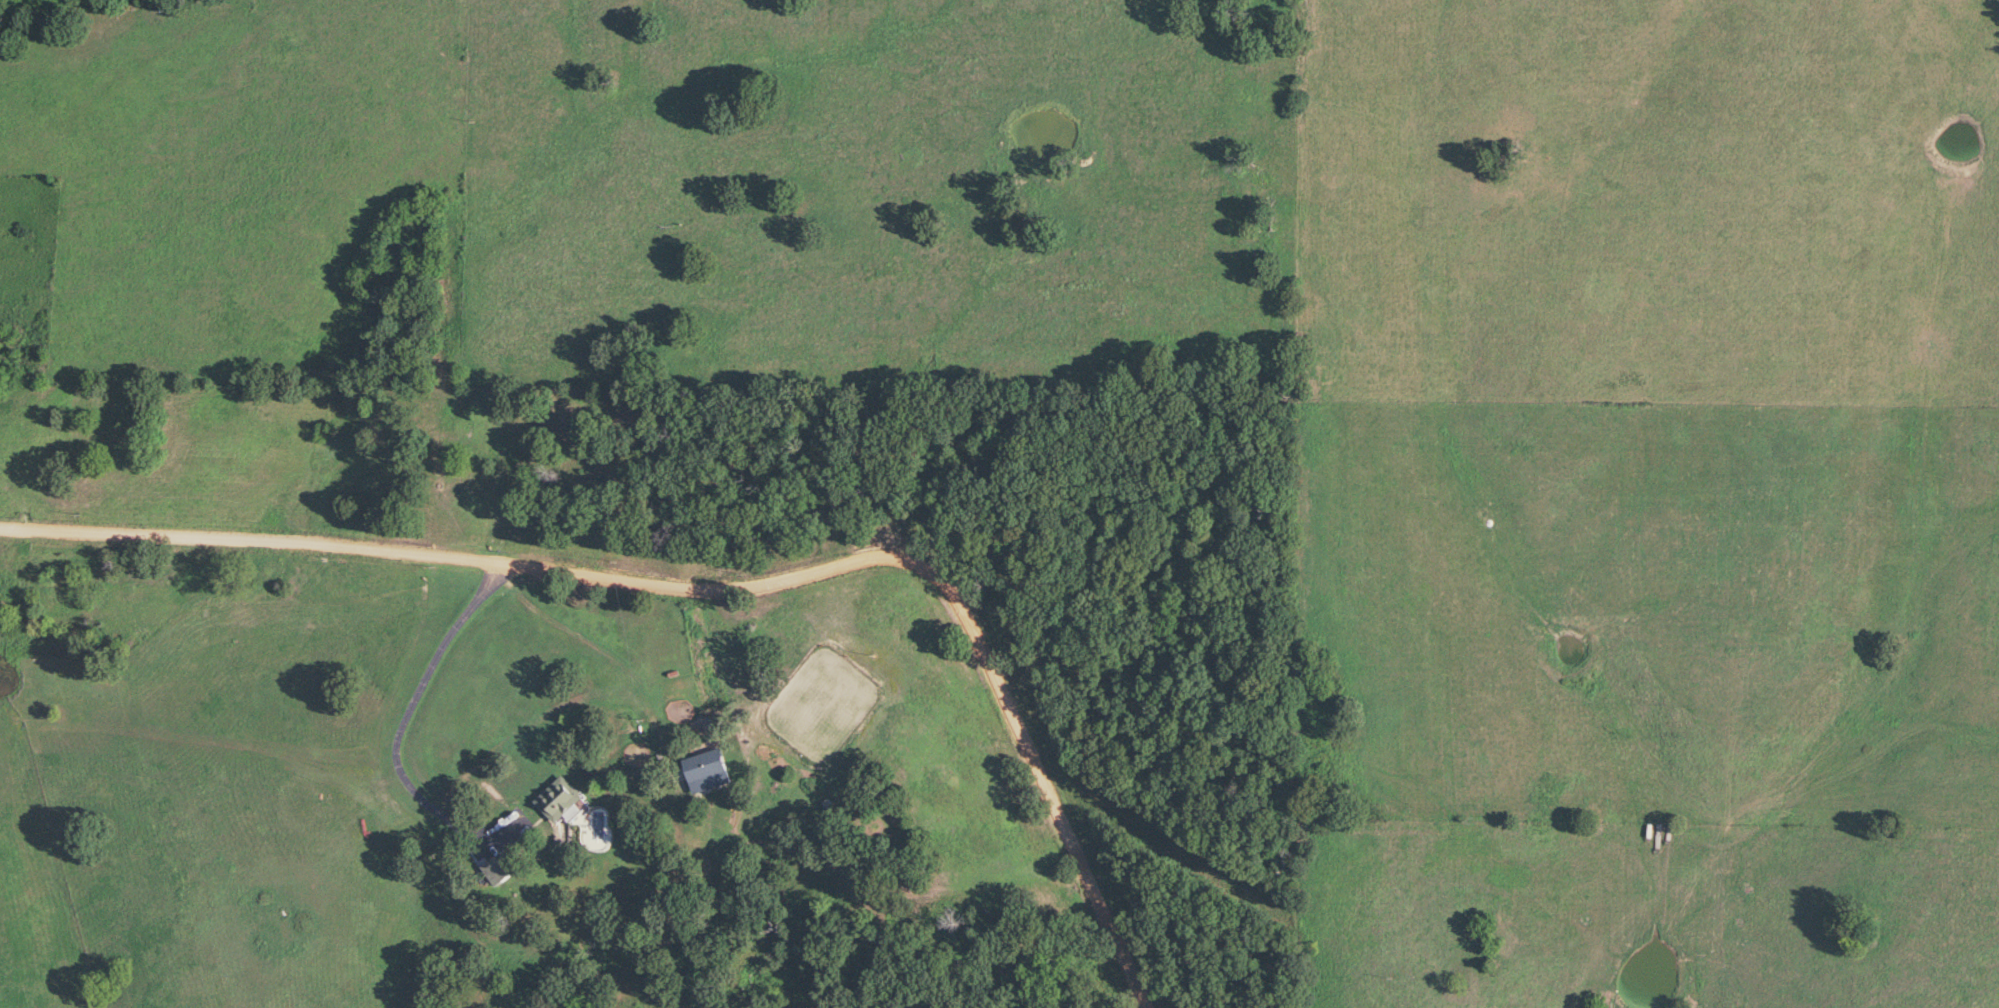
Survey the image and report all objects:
road: (859, 307)
road: (709, 598)
road: (391, 737)
building: (702, 773)
building: (553, 800)
building: (493, 871)

